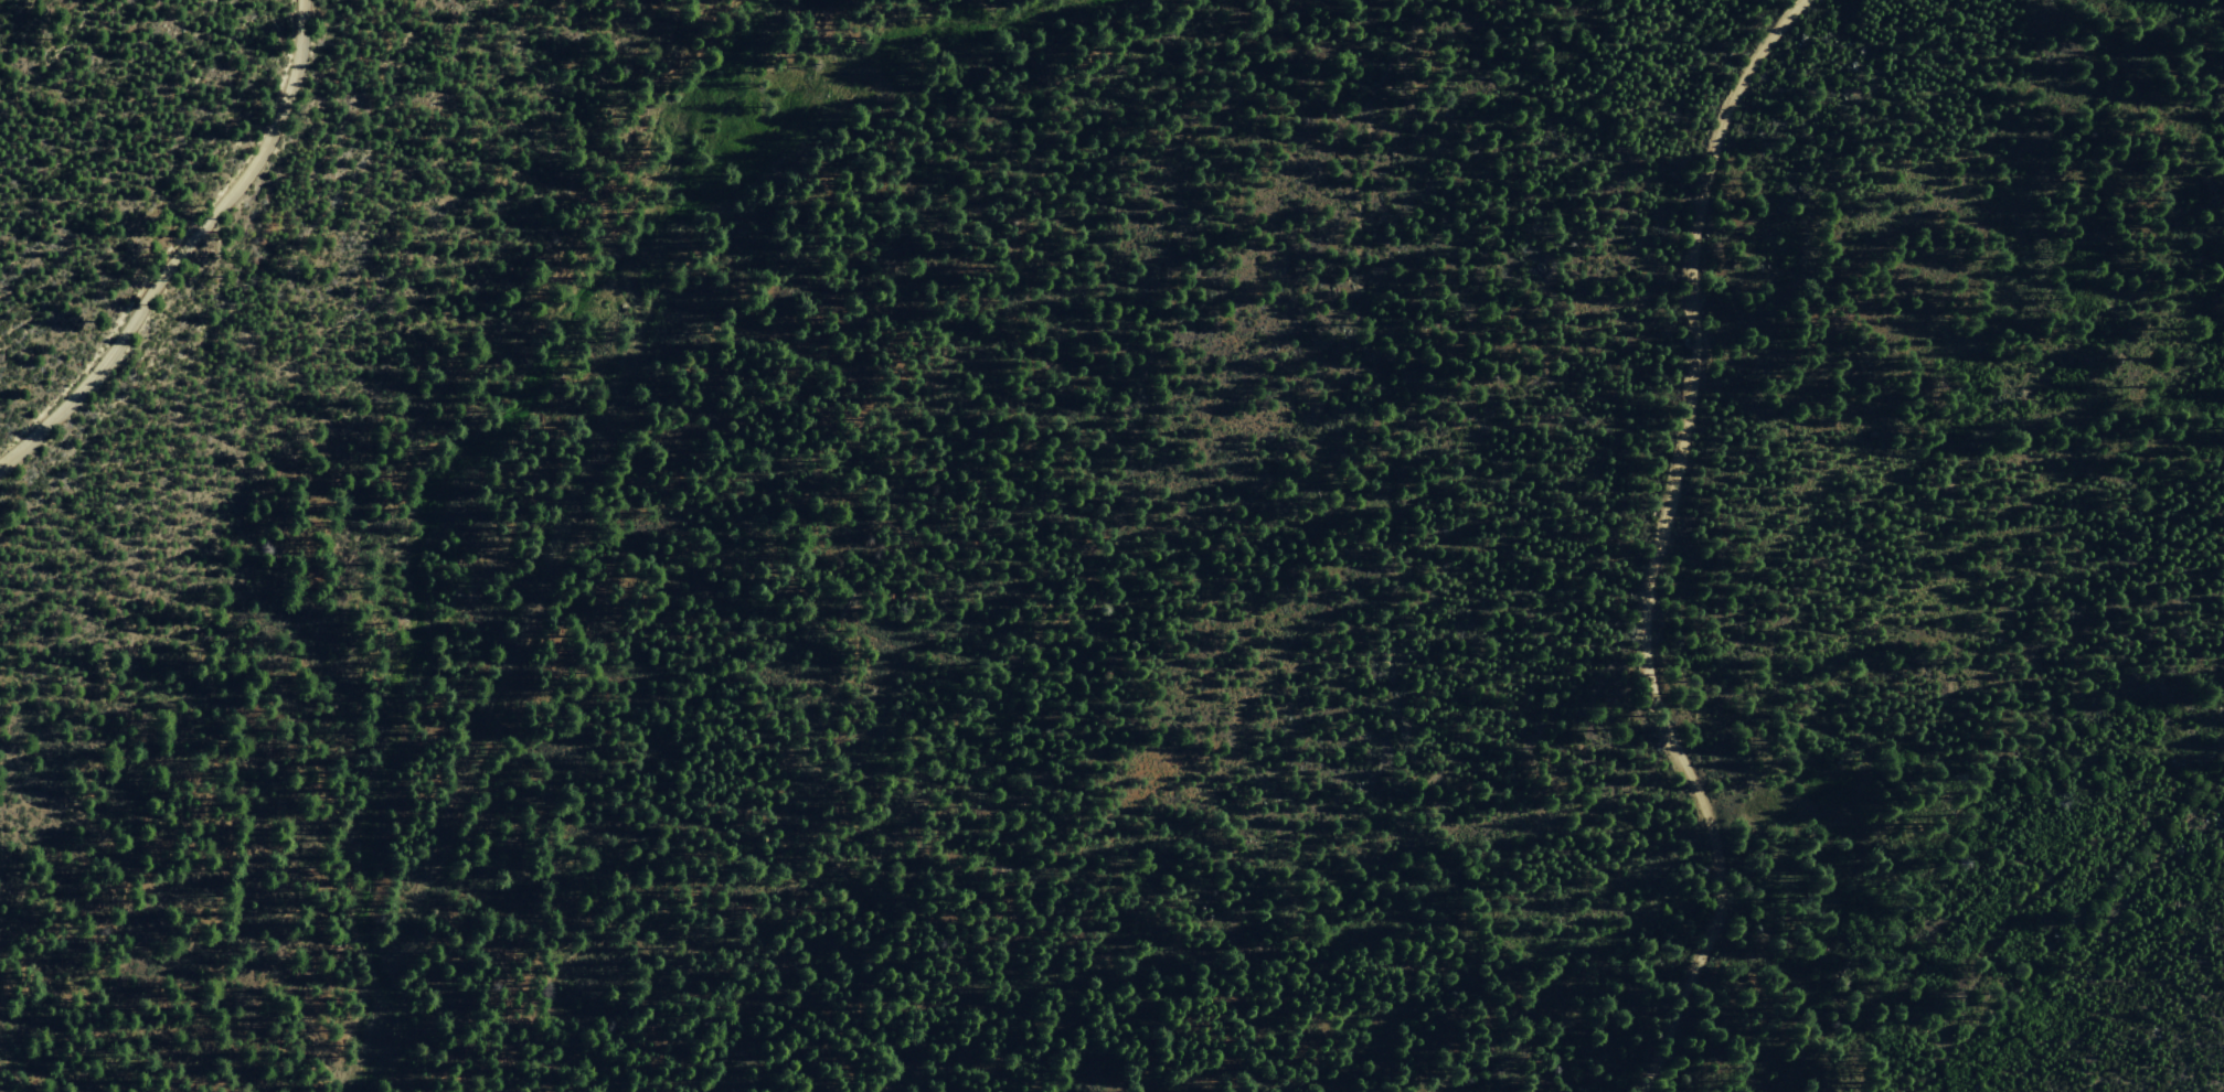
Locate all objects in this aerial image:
road: (189, 250)
road: (1659, 544)

